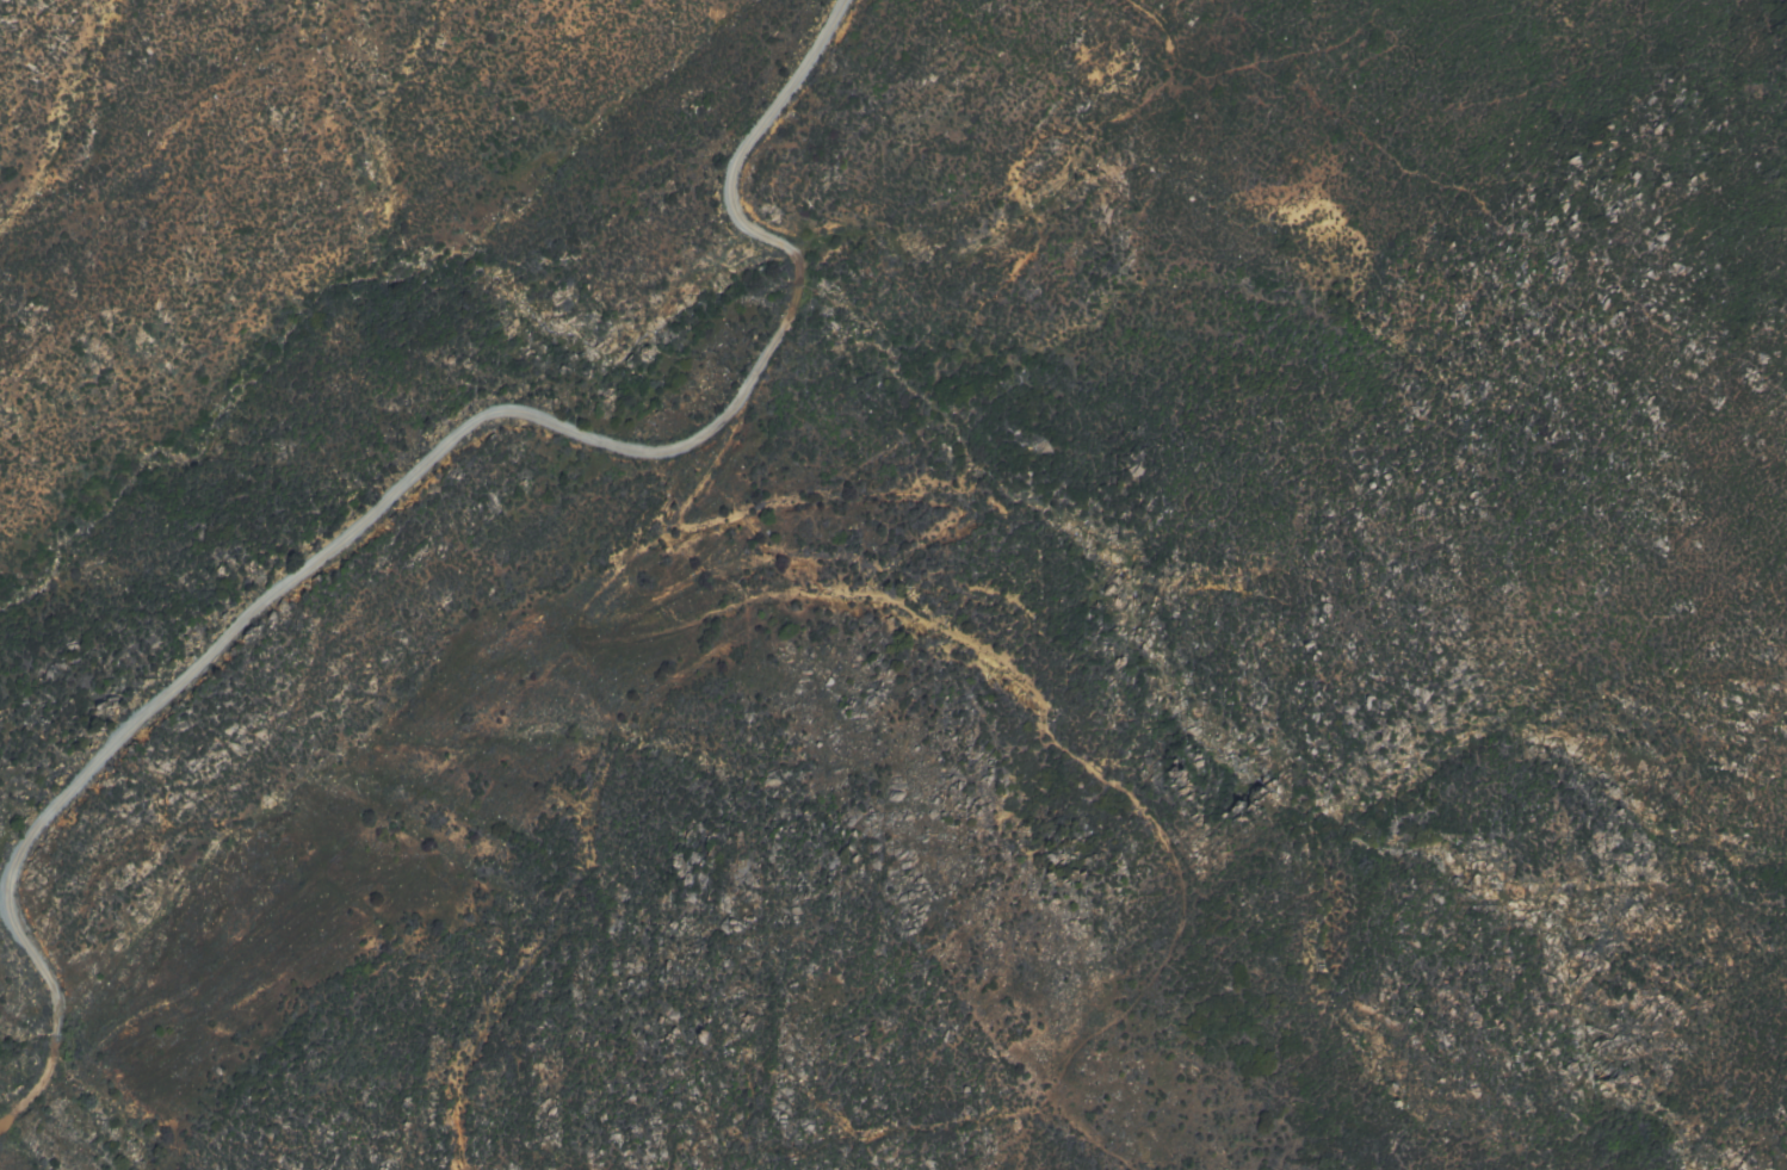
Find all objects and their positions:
road: (542, 419)
road: (976, 650)
road: (44, 1021)

